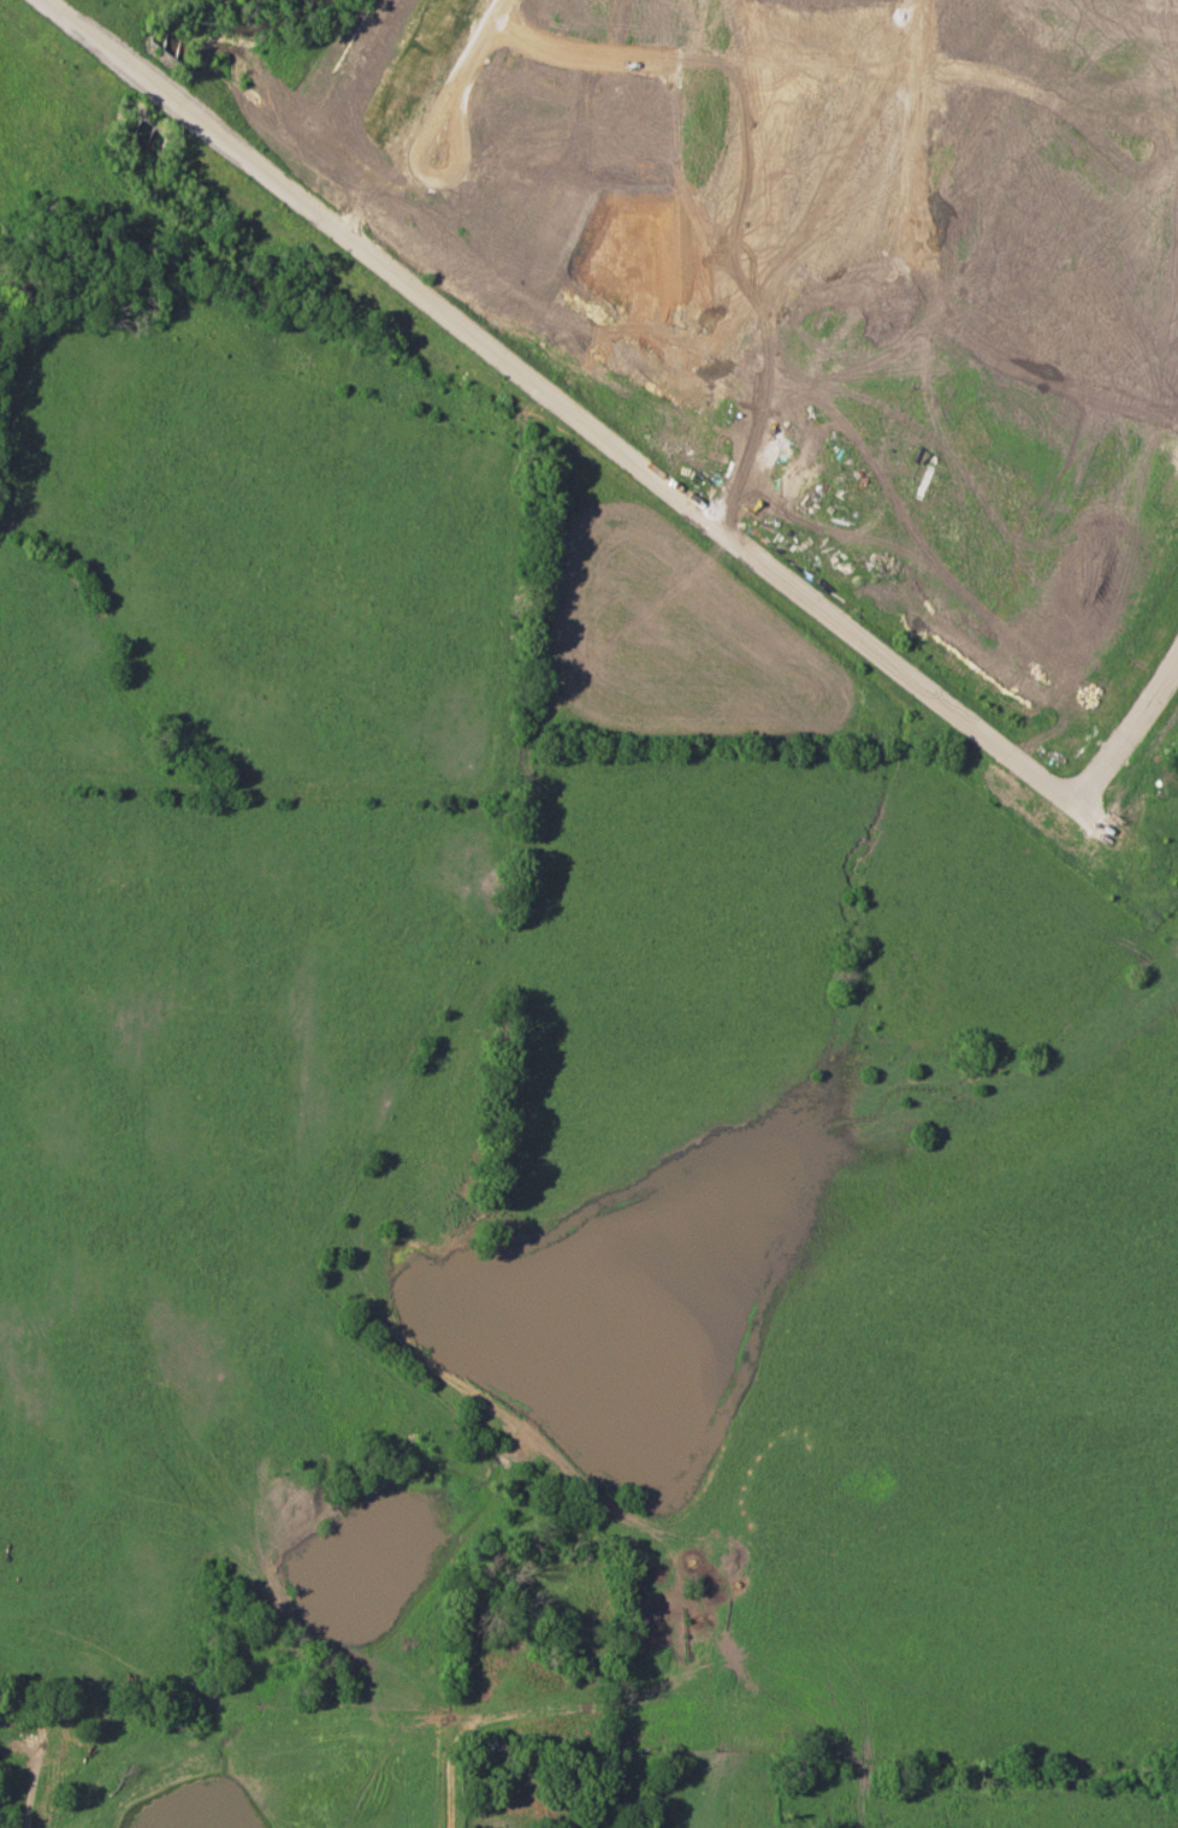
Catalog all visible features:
road: (475, 47)
road: (558, 57)
road: (430, 183)
road: (573, 414)
road: (1124, 730)

